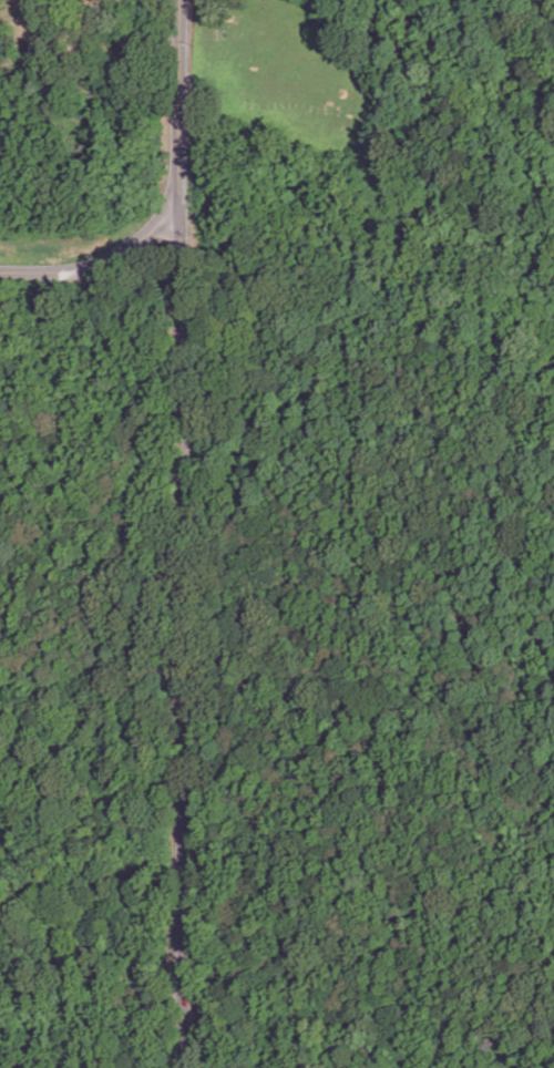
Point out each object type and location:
road: (89, 270)
road: (178, 534)

